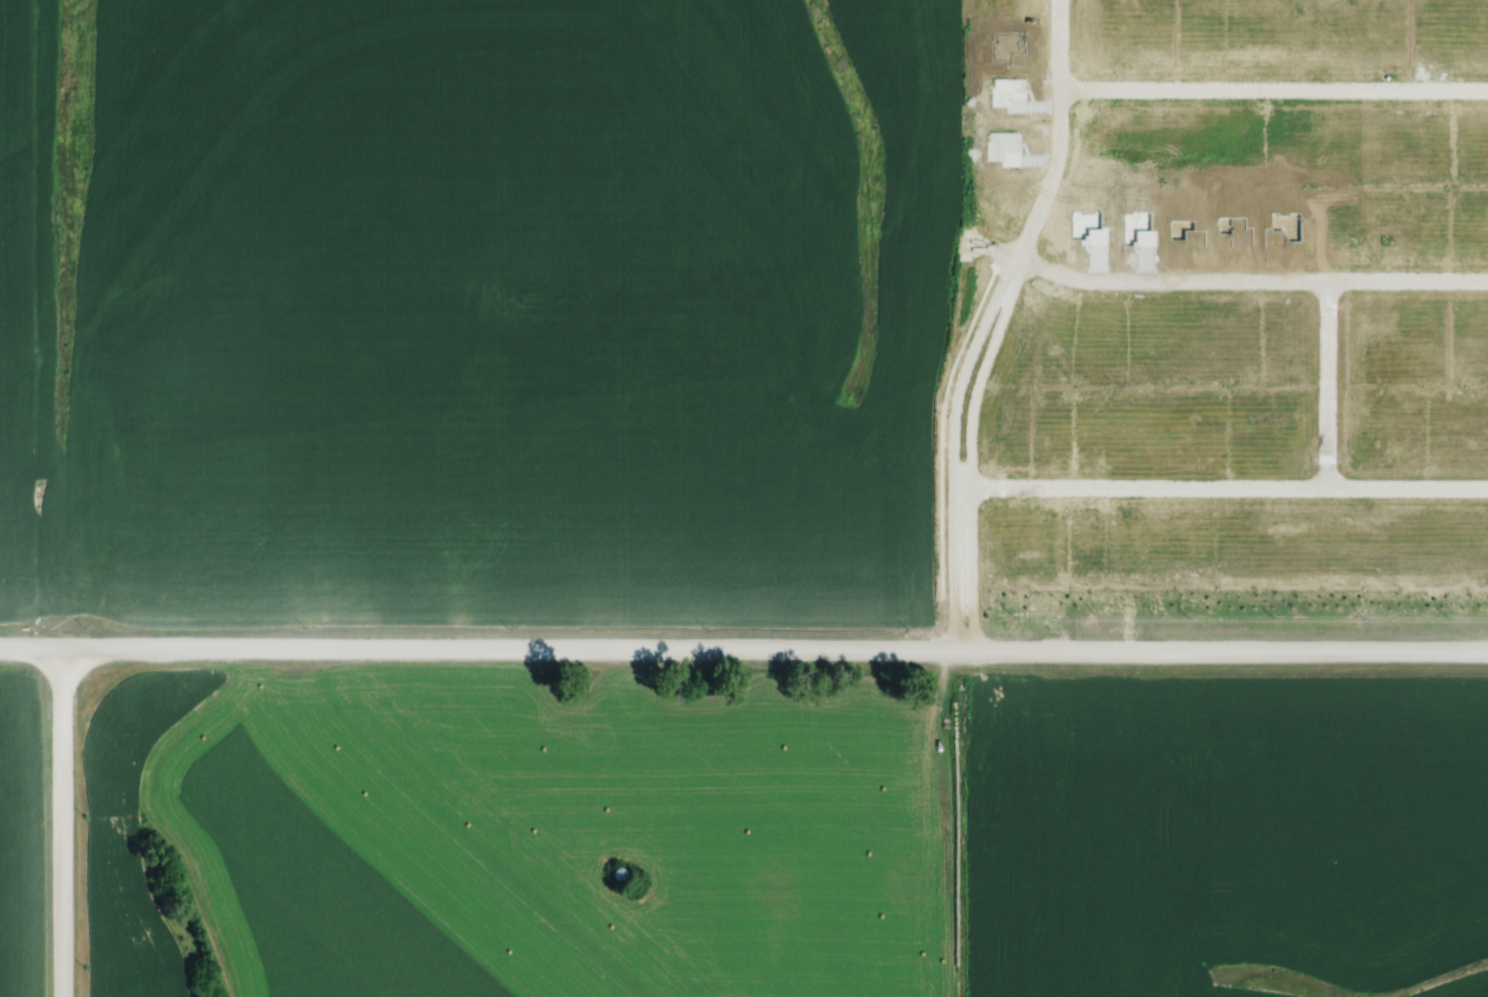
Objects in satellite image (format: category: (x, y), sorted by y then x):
road: (1275, 84)
road: (1052, 129)
road: (1251, 279)
road: (1328, 382)
road: (954, 448)
road: (973, 451)
road: (1220, 485)
building: (1131, 493)
building: (1174, 561)
road: (1231, 653)
road: (742, 654)
road: (255, 655)
road: (68, 826)

